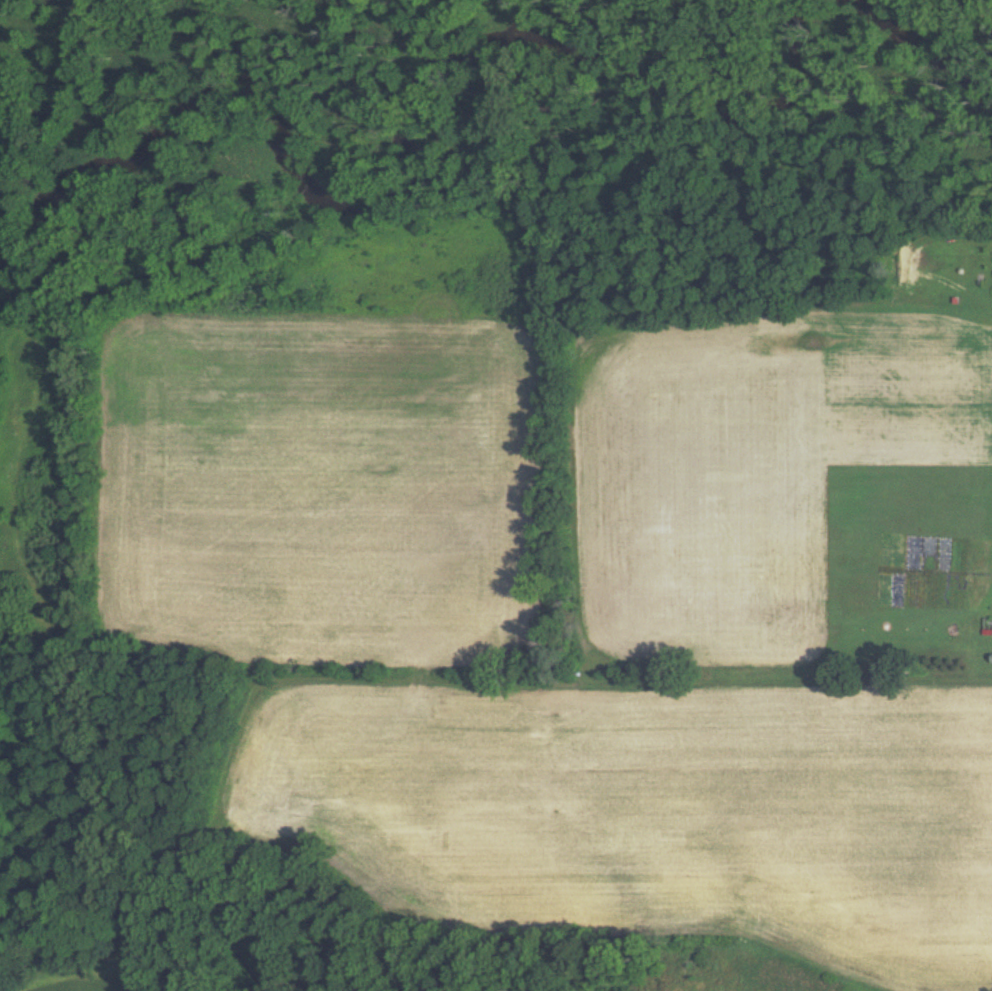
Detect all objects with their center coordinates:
building: (987, 627)

